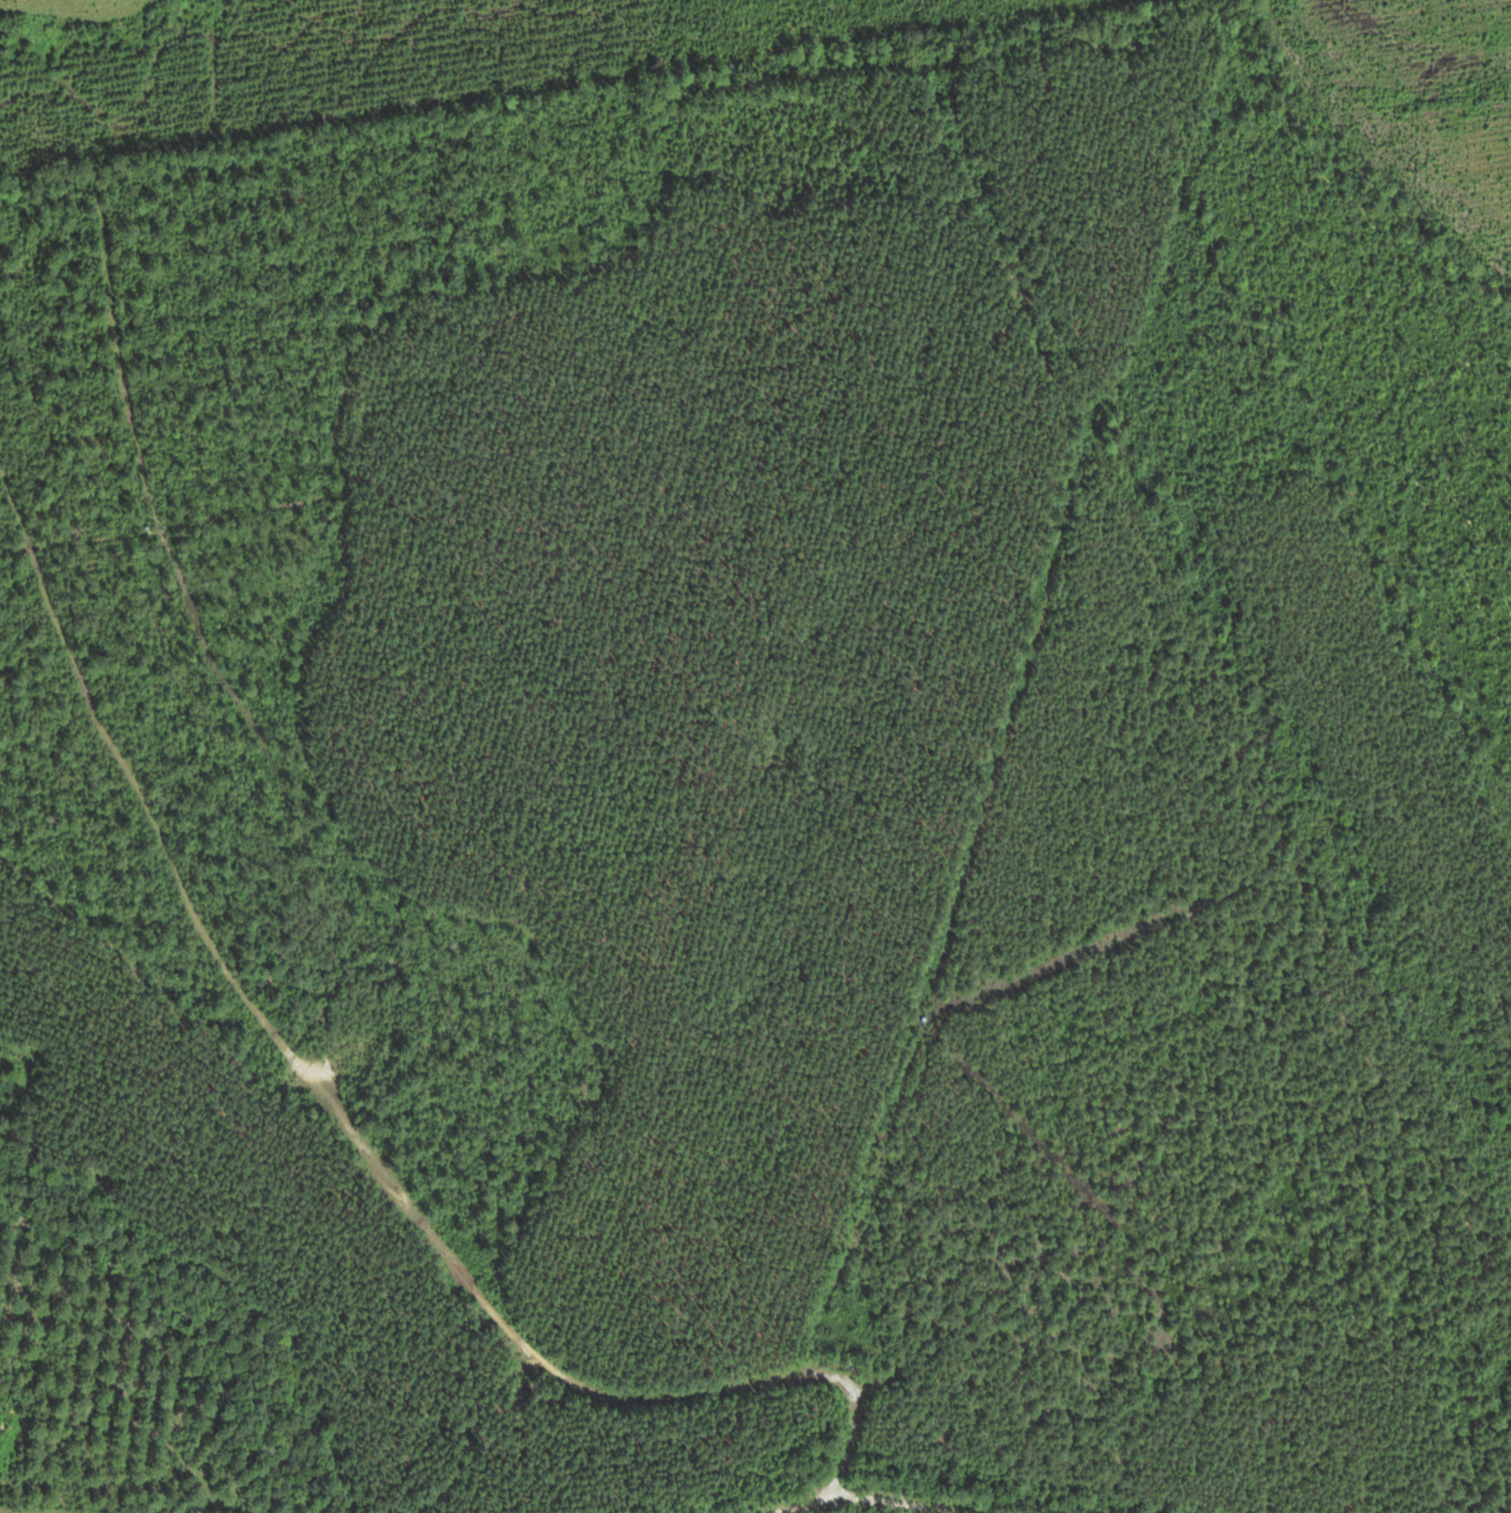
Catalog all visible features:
building: (854, 1365)
road: (904, 1496)
road: (47, 1506)

